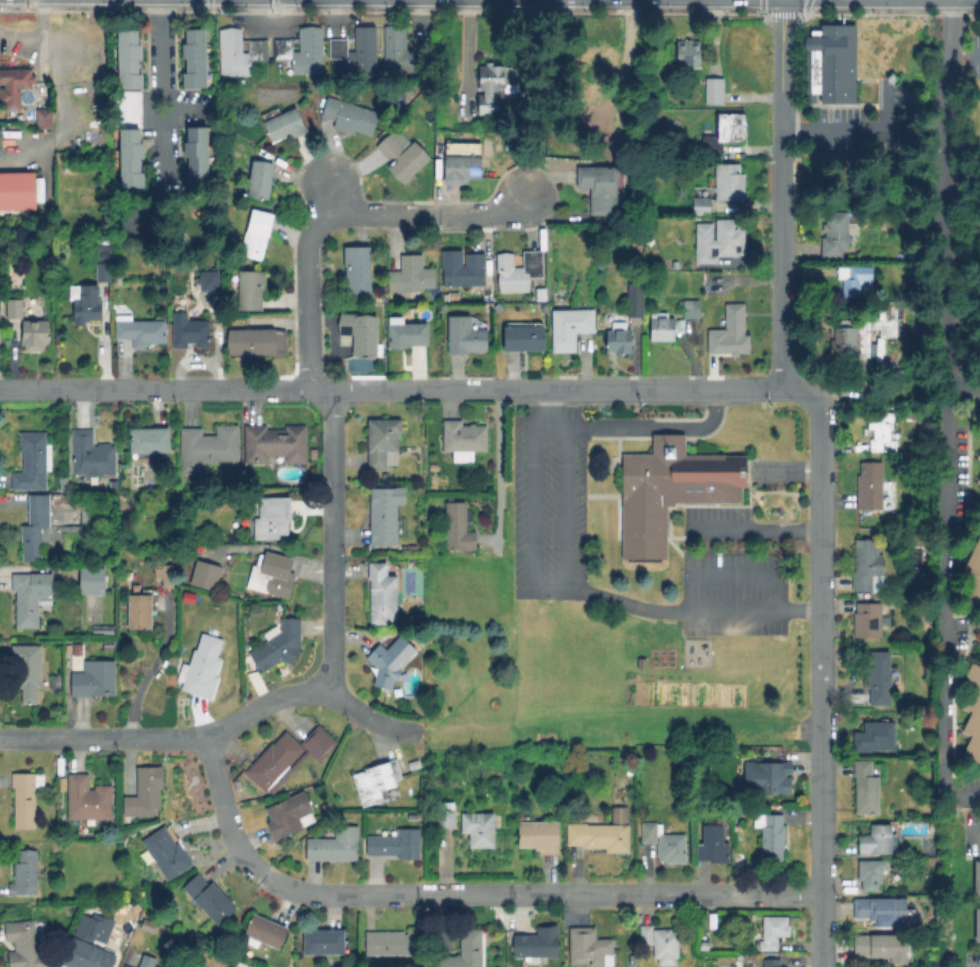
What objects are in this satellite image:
road: (567, 5)
road: (664, 12)
road: (781, 14)
building: (403, 49)
building: (302, 50)
building: (357, 50)
building: (239, 52)
building: (688, 53)
road: (975, 54)
building: (194, 58)
building: (128, 59)
building: (831, 64)
road: (782, 71)
building: (593, 75)
building: (493, 84)
building: (14, 86)
road: (163, 87)
building: (714, 90)
building: (348, 115)
building: (42, 117)
building: (284, 124)
building: (478, 125)
road: (843, 127)
building: (725, 132)
building: (630, 144)
building: (827, 154)
building: (194, 156)
building: (402, 156)
building: (129, 158)
building: (460, 166)
building: (260, 179)
building: (728, 181)
building: (599, 187)
building: (19, 189)
road: (945, 192)
road: (330, 198)
building: (701, 200)
road: (431, 215)
building: (256, 234)
building: (834, 234)
building: (719, 239)
road: (782, 266)
building: (462, 268)
building: (357, 269)
building: (518, 271)
building: (104, 274)
building: (410, 275)
building: (853, 278)
building: (206, 280)
building: (251, 289)
building: (541, 293)
road: (304, 294)
building: (487, 299)
building: (635, 299)
building: (84, 302)
building: (13, 308)
building: (690, 308)
building: (880, 310)
building: (664, 326)
building: (570, 327)
building: (139, 330)
building: (186, 330)
building: (360, 332)
building: (730, 332)
building: (405, 333)
building: (34, 334)
building: (465, 335)
building: (524, 336)
building: (618, 338)
building: (260, 343)
building: (844, 343)
road: (276, 389)
road: (678, 390)
road: (631, 428)
building: (881, 431)
building: (463, 438)
building: (149, 439)
building: (382, 442)
building: (274, 443)
building: (208, 445)
building: (91, 454)
building: (979, 455)
building: (32, 461)
building: (435, 466)
building: (979, 480)
building: (64, 482)
building: (869, 485)
building: (670, 490)
rooftop solar panel: (687, 490)
rooftop solar panel: (695, 490)
rooftop solar panel: (706, 491)
building: (979, 504)
building: (388, 516)
building: (272, 518)
building: (457, 526)
building: (35, 527)
road: (760, 529)
road: (334, 542)
building: (412, 549)
building: (867, 565)
building: (926, 568)
road: (731, 573)
building: (206, 574)
building: (274, 574)
building: (167, 576)
building: (973, 578)
building: (92, 580)
road: (946, 586)
building: (381, 593)
building: (30, 596)
road: (613, 601)
building: (140, 610)
building: (958, 611)
building: (869, 616)
building: (102, 629)
building: (979, 641)
building: (108, 644)
building: (279, 644)
building: (76, 651)
building: (390, 660)
building: (201, 666)
road: (149, 668)
building: (29, 671)
road: (821, 675)
building: (877, 677)
building: (93, 678)
rooftop solar panel: (51, 682)
building: (973, 712)
road: (215, 730)
building: (874, 737)
building: (288, 756)
building: (413, 765)
building: (631, 772)
building: (767, 779)
building: (373, 782)
building: (866, 788)
building: (144, 792)
building: (25, 797)
building: (89, 799)
building: (745, 802)
building: (329, 809)
building: (287, 814)
building: (445, 818)
building: (478, 828)
building: (601, 832)
road: (972, 833)
building: (539, 835)
building: (772, 836)
building: (876, 840)
building: (664, 842)
building: (335, 844)
building: (395, 844)
building: (712, 844)
building: (166, 853)
building: (24, 873)
building: (870, 874)
building: (979, 879)
building: (933, 891)
road: (462, 894)
building: (209, 898)
building: (136, 909)
building: (882, 910)
building: (976, 923)
building: (148, 925)
building: (773, 931)
building: (263, 932)
building: (538, 941)
building: (659, 941)
building: (323, 942)
building: (391, 943)
building: (704, 944)
building: (23, 945)
building: (881, 946)
building: (589, 948)
building: (464, 951)
building: (86, 952)
building: (633, 960)
building: (147, 961)
building: (771, 963)
building: (126, 966)

